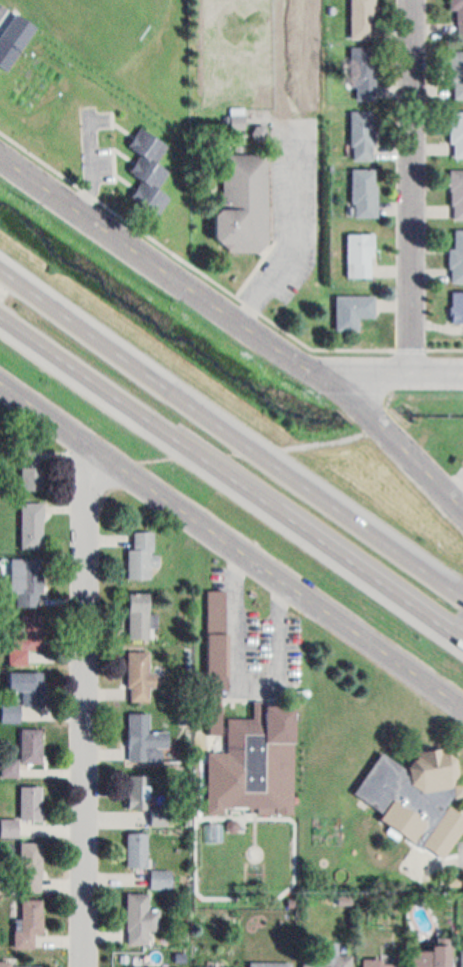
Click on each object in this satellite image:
building: (458, 15)
building: (362, 16)
parking lot: (14, 23)
building: (7, 50)
building: (362, 64)
building: (457, 69)
building: (361, 128)
building: (455, 129)
building: (146, 166)
road: (410, 186)
building: (456, 187)
building: (361, 188)
building: (240, 200)
street lamp: (34, 202)
parking lot: (291, 209)
road: (295, 227)
building: (358, 250)
building: (456, 250)
road: (157, 265)
road: (217, 279)
building: (455, 301)
building: (352, 305)
road: (389, 374)
street lamp: (313, 394)
road: (43, 411)
road: (137, 411)
road: (230, 433)
road: (393, 438)
building: (33, 464)
building: (31, 521)
building: (139, 549)
road: (274, 573)
road: (369, 573)
building: (23, 574)
building: (139, 610)
building: (25, 630)
building: (139, 673)
building: (25, 679)
road: (86, 704)
building: (145, 737)
building: (32, 741)
building: (260, 756)
building: (10, 767)
building: (138, 787)
building: (415, 789)
building: (33, 797)
building: (139, 844)
building: (32, 863)
building: (161, 878)
building: (142, 915)
building: (30, 918)
building: (428, 954)
building: (328, 956)
building: (462, 957)
building: (21, 961)
building: (269, 962)
building: (380, 962)
building: (217, 964)
building: (155, 965)

